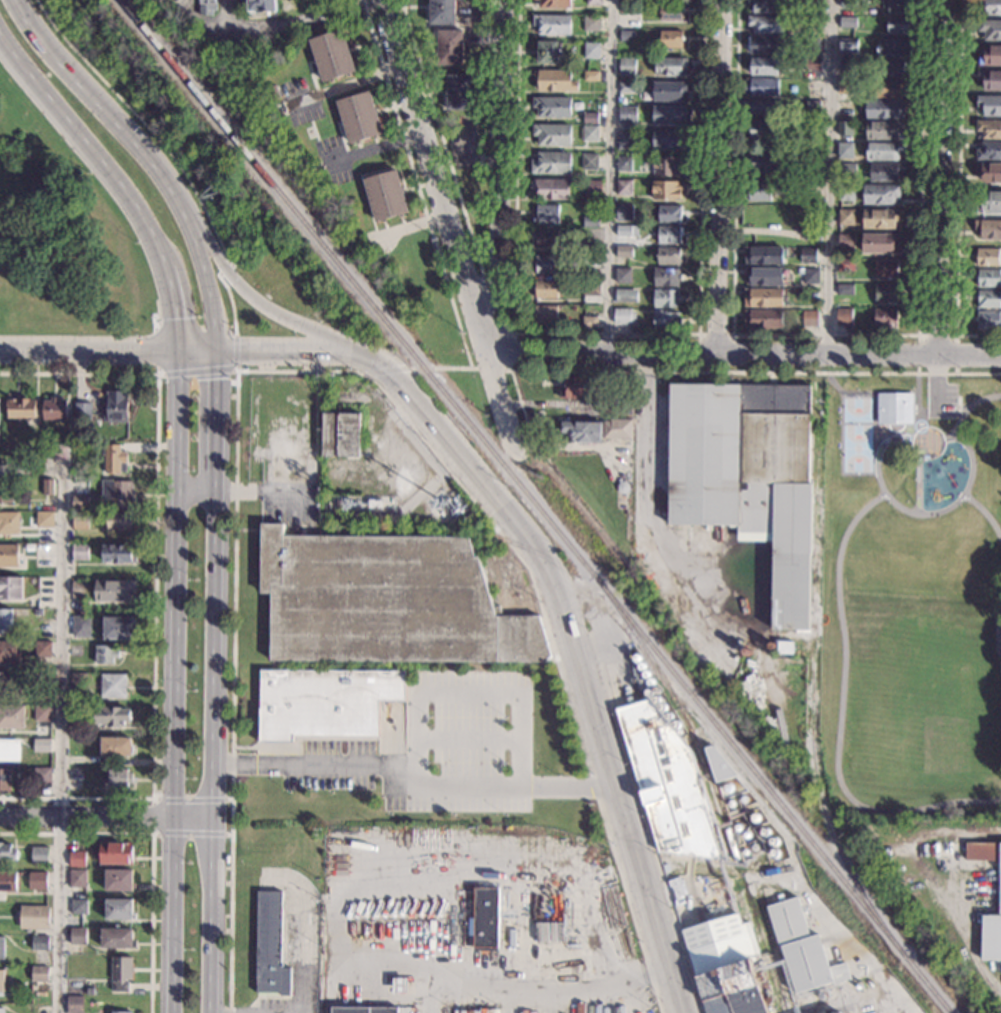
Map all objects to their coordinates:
building: (594, 2)
building: (555, 4)
building: (847, 4)
building: (261, 5)
building: (766, 5)
building: (816, 5)
building: (898, 5)
building: (207, 6)
building: (990, 6)
building: (629, 8)
building: (672, 11)
building: (442, 12)
building: (848, 21)
road: (303, 22)
building: (816, 22)
building: (592, 23)
building: (766, 23)
building: (552, 24)
building: (900, 24)
road: (212, 26)
building: (990, 28)
building: (627, 36)
building: (671, 39)
building: (811, 44)
building: (764, 45)
building: (848, 46)
building: (450, 47)
building: (895, 47)
building: (217, 48)
building: (592, 50)
building: (549, 51)
building: (332, 54)
building: (990, 55)
building: (846, 63)
building: (812, 65)
building: (627, 66)
building: (671, 66)
building: (764, 66)
building: (892, 68)
building: (592, 75)
building: (554, 80)
building: (991, 81)
building: (813, 84)
road: (344, 86)
building: (761, 86)
building: (845, 86)
building: (626, 87)
building: (885, 88)
building: (669, 90)
building: (459, 91)
building: (813, 105)
building: (989, 105)
building: (552, 106)
building: (763, 106)
building: (281, 107)
building: (844, 108)
building: (884, 109)
building: (627, 114)
building: (669, 115)
building: (359, 117)
building: (590, 117)
road: (144, 124)
building: (762, 128)
building: (844, 128)
building: (989, 129)
building: (884, 130)
building: (589, 133)
building: (552, 134)
road: (441, 138)
building: (668, 138)
building: (626, 140)
road: (87, 145)
building: (845, 150)
building: (883, 151)
building: (988, 151)
road: (148, 158)
building: (811, 158)
building: (590, 161)
building: (762, 162)
building: (551, 163)
building: (623, 163)
building: (667, 165)
building: (846, 169)
building: (885, 171)
building: (990, 172)
road: (500, 175)
road: (609, 175)
road: (718, 176)
road: (831, 177)
road: (939, 178)
road: (416, 184)
building: (623, 187)
building: (551, 188)
building: (592, 188)
building: (666, 189)
road: (958, 189)
building: (758, 192)
building: (846, 192)
building: (880, 193)
building: (385, 195)
building: (990, 200)
building: (624, 212)
building: (547, 213)
building: (669, 214)
building: (846, 217)
building: (880, 218)
road: (448, 221)
building: (590, 221)
building: (811, 222)
building: (988, 229)
building: (627, 230)
building: (582, 231)
building: (812, 233)
building: (669, 234)
park: (62, 237)
building: (547, 239)
building: (846, 242)
building: (881, 243)
building: (592, 247)
building: (624, 251)
building: (808, 255)
building: (668, 256)
building: (764, 256)
building: (988, 256)
building: (592, 260)
building: (546, 264)
building: (845, 265)
building: (887, 268)
road: (226, 269)
building: (623, 275)
building: (764, 276)
building: (811, 276)
building: (666, 277)
building: (989, 278)
road: (497, 285)
building: (591, 288)
building: (546, 289)
building: (845, 289)
building: (886, 293)
building: (626, 295)
building: (764, 297)
building: (666, 298)
building: (988, 298)
road: (254, 299)
road: (231, 302)
road: (173, 305)
building: (546, 314)
building: (622, 316)
building: (844, 316)
building: (885, 317)
traffic signals: (175, 318)
building: (763, 318)
building: (809, 318)
building: (987, 319)
building: (666, 320)
building: (589, 321)
road: (606, 334)
road: (826, 335)
road: (937, 336)
road: (699, 337)
road: (88, 351)
traffic signals: (151, 351)
traffic signals: (239, 351)
road: (264, 351)
road: (743, 354)
road: (439, 369)
road: (385, 371)
road: (509, 371)
road: (339, 373)
road: (716, 373)
road: (188, 374)
traffic signals: (214, 378)
road: (937, 386)
building: (580, 387)
road: (868, 391)
parking lot: (941, 400)
building: (621, 404)
building: (117, 406)
road: (950, 406)
road: (962, 406)
building: (894, 407)
building: (21, 408)
building: (55, 409)
building: (83, 409)
road: (214, 412)
road: (958, 418)
building: (617, 429)
road: (896, 430)
building: (581, 431)
building: (340, 434)
park: (855, 434)
road: (917, 443)
building: (60, 451)
building: (114, 458)
building: (747, 475)
building: (48, 487)
building: (622, 487)
road: (195, 489)
building: (5, 490)
road: (646, 490)
building: (117, 492)
building: (80, 501)
building: (342, 502)
building: (375, 503)
railway: (537, 506)
road: (907, 509)
road: (985, 512)
building: (45, 519)
building: (119, 520)
building: (79, 521)
building: (9, 523)
building: (30, 546)
road: (175, 548)
building: (79, 551)
building: (117, 553)
building: (9, 555)
road: (155, 584)
park: (913, 587)
building: (11, 588)
building: (80, 589)
building: (114, 590)
building: (386, 601)
building: (38, 611)
building: (5, 619)
building: (80, 626)
building: (119, 628)
road: (998, 635)
building: (785, 647)
building: (42, 648)
road: (571, 649)
building: (9, 651)
building: (105, 653)
building: (77, 680)
building: (10, 684)
building: (113, 685)
road: (470, 693)
building: (43, 694)
building: (323, 702)
railway: (812, 702)
road: (63, 707)
building: (42, 712)
road: (839, 715)
building: (11, 716)
building: (113, 716)
road: (465, 738)
road: (212, 743)
building: (42, 745)
building: (116, 746)
parking lot: (437, 747)
building: (9, 749)
railway: (699, 752)
building: (717, 762)
building: (703, 763)
road: (411, 772)
building: (41, 775)
building: (118, 777)
building: (4, 779)
road: (172, 781)
building: (668, 784)
road: (86, 814)
road: (152, 815)
road: (192, 817)
road: (643, 823)
road: (151, 847)
building: (7, 852)
building: (116, 853)
building: (39, 855)
building: (76, 858)
building: (77, 878)
building: (118, 879)
building: (37, 880)
building: (7, 881)
building: (999, 892)
building: (78, 906)
railway: (754, 908)
building: (119, 909)
road: (172, 915)
building: (34, 917)
building: (484, 919)
road: (309, 932)
building: (77, 935)
building: (116, 938)
building: (40, 942)
building: (269, 945)
building: (1, 947)
building: (802, 949)
building: (121, 968)
building: (39, 973)
building: (731, 973)
building: (2, 981)
building: (399, 984)
building: (119, 986)
building: (89, 990)
building: (74, 1004)
building: (363, 1009)
building: (1, 1010)
building: (121, 1012)
building: (839, 1012)

